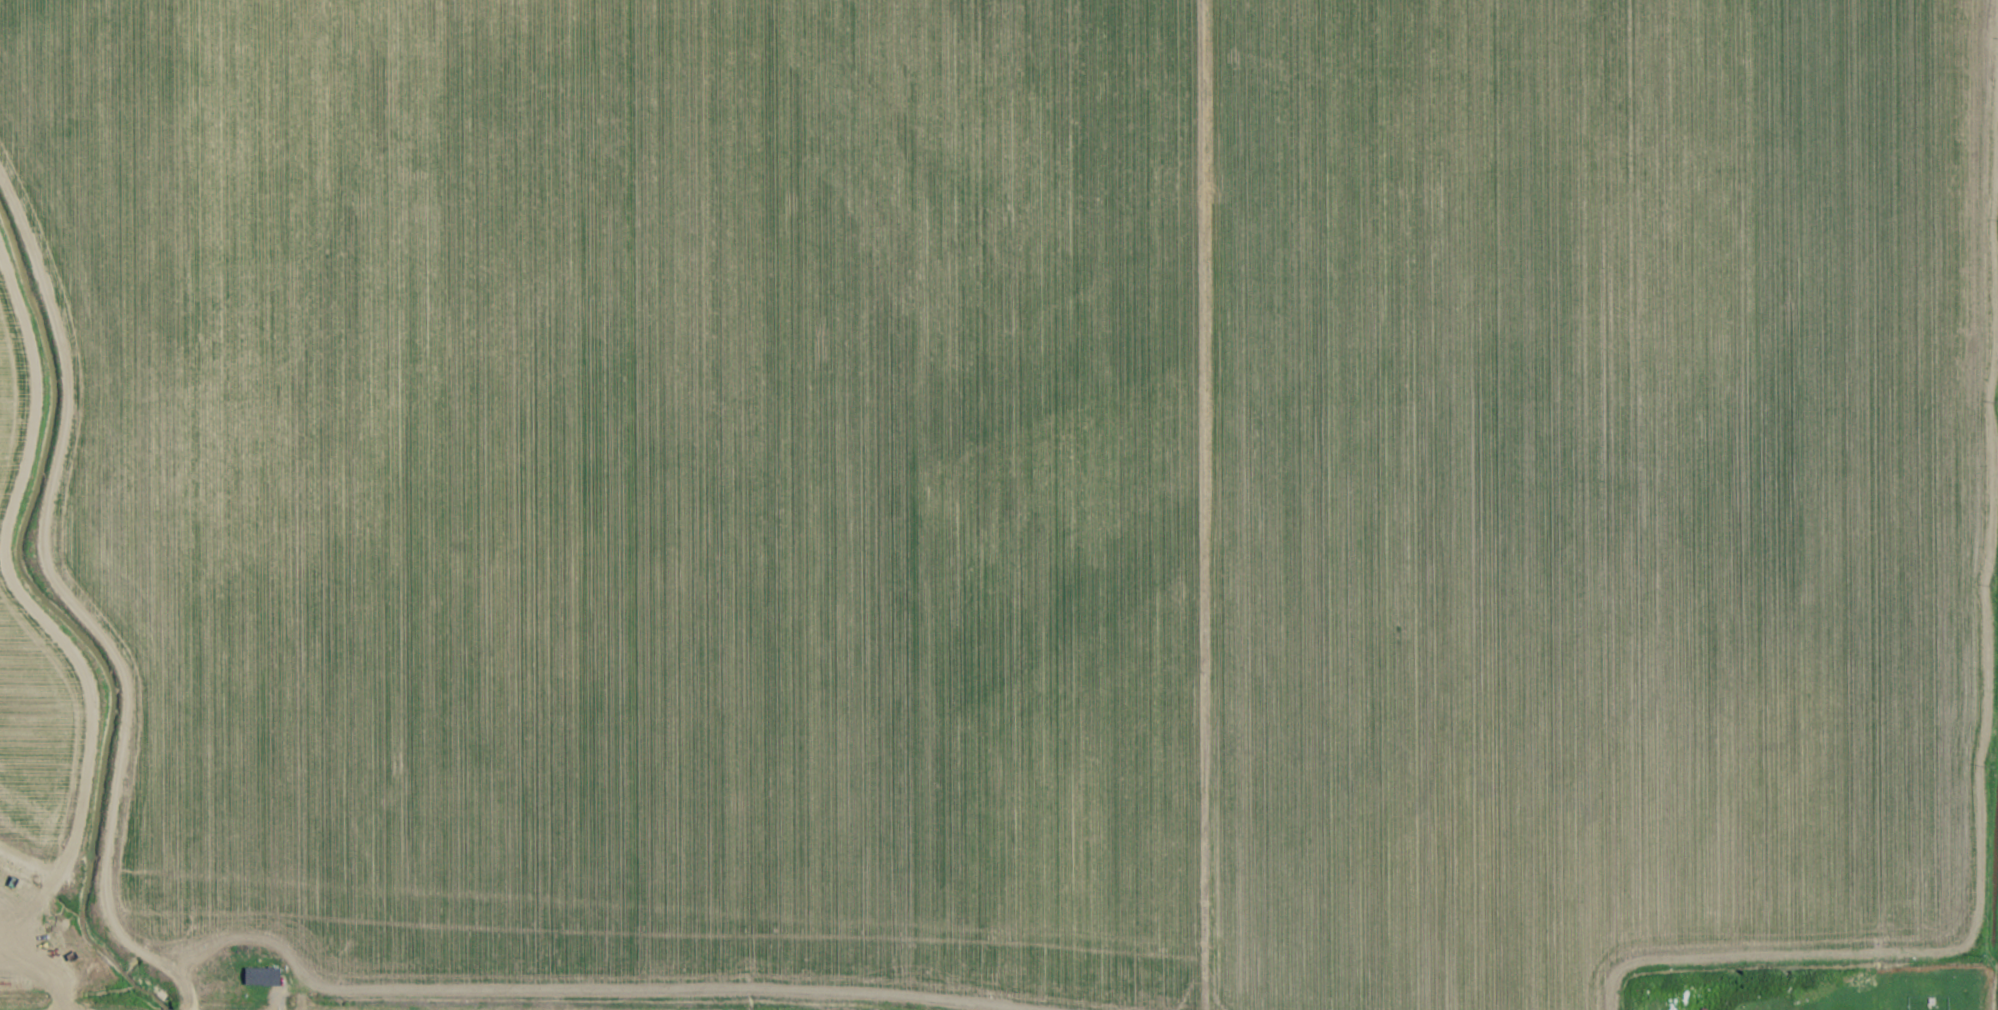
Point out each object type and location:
road: (40, 966)
building: (264, 977)

